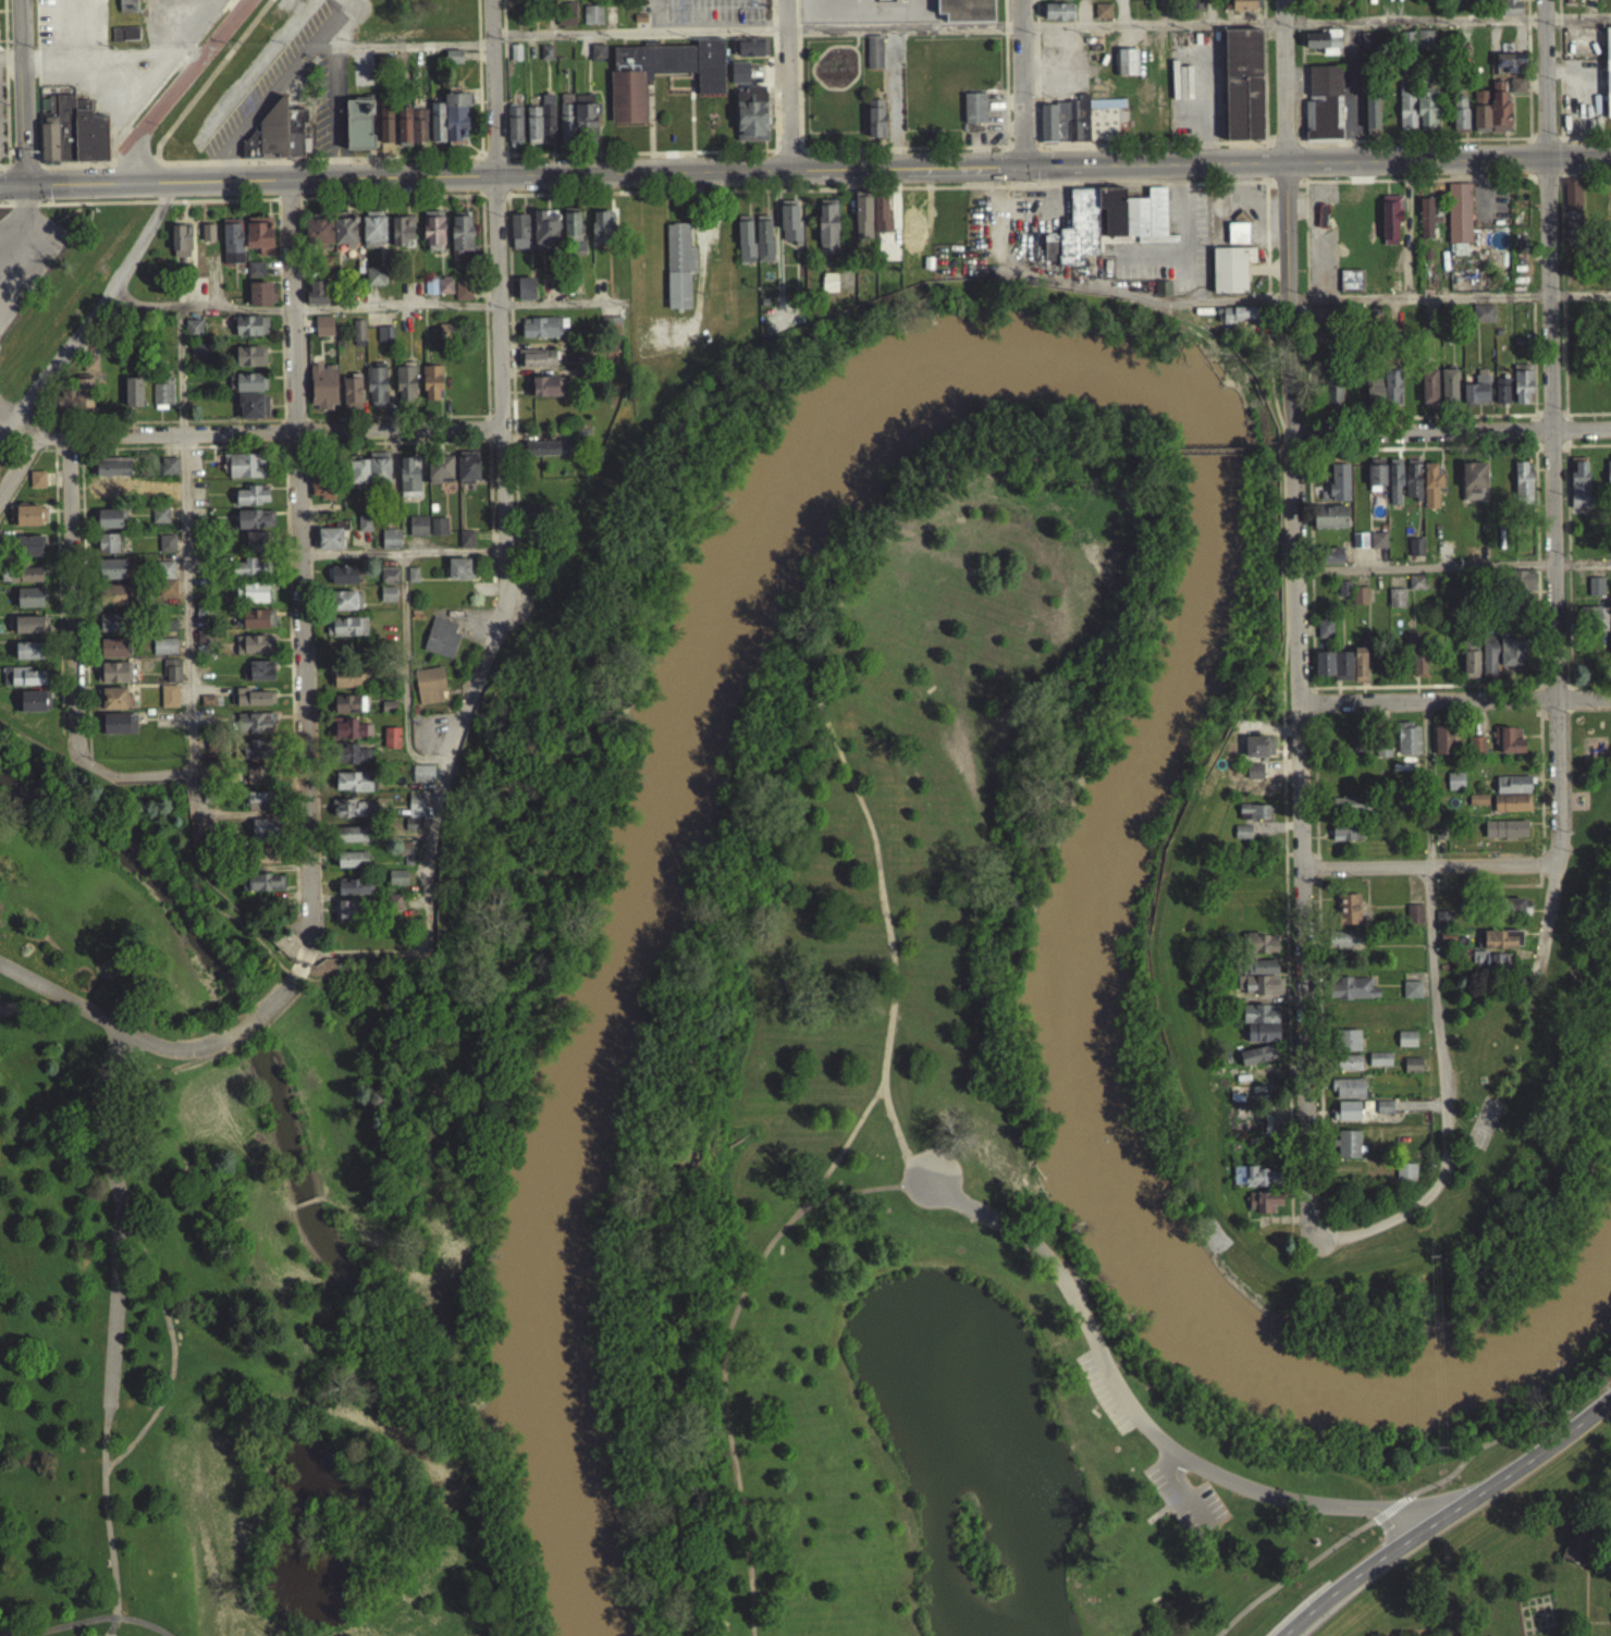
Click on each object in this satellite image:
parking lot: (767, 0)
building: (885, 4)
building: (1245, 8)
building: (127, 10)
building: (1510, 10)
building: (963, 12)
parking lot: (700, 15)
building: (1056, 16)
building: (1102, 17)
road: (653, 19)
building: (565, 21)
building: (591, 22)
road: (1577, 24)
road: (1412, 27)
road: (1151, 30)
road: (902, 34)
road: (638, 38)
building: (124, 40)
road: (413, 41)
building: (1425, 46)
building: (1323, 47)
road: (11, 52)
building: (545, 59)
building: (873, 59)
building: (598, 60)
road: (110, 63)
building: (453, 63)
building: (1126, 69)
road: (1559, 73)
building: (1608, 77)
road: (280, 78)
building: (739, 78)
building: (662, 79)
road: (1020, 85)
road: (786, 88)
road: (177, 89)
building: (1242, 90)
building: (1516, 91)
road: (23, 94)
road: (890, 104)
building: (1324, 110)
road: (335, 112)
building: (1499, 112)
building: (974, 114)
building: (1405, 115)
building: (1426, 116)
building: (1372, 118)
building: (1480, 118)
building: (583, 119)
building: (1459, 119)
building: (751, 120)
building: (456, 123)
building: (566, 123)
building: (546, 125)
building: (875, 125)
building: (1082, 126)
building: (436, 128)
building: (359, 131)
building: (411, 132)
building: (514, 132)
building: (532, 132)
building: (71, 137)
building: (385, 137)
building: (275, 138)
road: (1583, 143)
road: (229, 158)
road: (134, 167)
road: (217, 168)
road: (74, 170)
road: (4, 171)
road: (23, 171)
traffic signals: (1022, 172)
road: (805, 176)
road: (1545, 183)
road: (1584, 184)
road: (1402, 185)
road: (1267, 187)
traffic signals: (23, 189)
road: (939, 193)
road: (492, 201)
road: (390, 202)
road: (286, 205)
road: (222, 206)
road: (161, 207)
road: (77, 208)
building: (1459, 219)
building: (862, 222)
building: (881, 222)
building: (1426, 225)
building: (1390, 226)
building: (789, 227)
building: (1106, 230)
building: (571, 233)
building: (908, 233)
road: (17, 234)
building: (545, 234)
building: (602, 234)
building: (827, 235)
building: (373, 236)
building: (318, 237)
building: (345, 237)
building: (402, 237)
building: (433, 237)
building: (207, 238)
building: (518, 238)
building: (460, 239)
building: (1237, 239)
building: (259, 241)
building: (745, 245)
building: (763, 245)
building: (232, 247)
building: (180, 248)
gas station: (23, 259)
building: (678, 272)
building: (255, 275)
building: (1230, 275)
building: (374, 283)
road: (2, 285)
building: (1350, 287)
building: (828, 288)
road: (1577, 291)
building: (438, 292)
building: (526, 295)
building: (1161, 295)
building: (463, 296)
road: (1416, 297)
building: (317, 299)
building: (261, 300)
road: (559, 308)
road: (393, 309)
road: (199, 312)
building: (1483, 320)
building: (1239, 321)
building: (250, 332)
building: (323, 332)
building: (612, 332)
building: (542, 334)
building: (193, 335)
building: (445, 336)
building: (358, 339)
road: (86, 340)
building: (384, 341)
road: (1544, 348)
building: (198, 357)
river: (1104, 359)
building: (249, 362)
building: (537, 365)
building: (89, 371)
road: (179, 376)
road: (1269, 379)
building: (250, 389)
building: (405, 389)
building: (432, 389)
building: (1522, 391)
building: (376, 392)
building: (1448, 392)
building: (322, 393)
building: (546, 393)
building: (1391, 394)
building: (1428, 394)
building: (1373, 396)
building: (1475, 397)
building: (133, 398)
building: (351, 398)
building: (78, 399)
building: (162, 401)
building: (1501, 403)
building: (253, 413)
road: (1450, 430)
road: (265, 438)
building: (542, 455)
road: (1191, 456)
building: (169, 472)
building: (245, 472)
building: (112, 473)
building: (467, 475)
building: (440, 476)
road: (501, 477)
building: (371, 478)
building: (1376, 479)
building: (1608, 479)
building: (408, 483)
building: (37, 485)
building: (1412, 485)
building: (1394, 489)
building: (1474, 489)
building: (1522, 489)
building: (1338, 490)
building: (1578, 491)
building: (108, 492)
building: (1430, 492)
building: (322, 494)
building: (251, 503)
building: (160, 521)
building: (27, 522)
building: (1329, 524)
building: (109, 525)
building: (255, 526)
building: (364, 529)
building: (417, 532)
building: (438, 532)
building: (332, 542)
building: (390, 545)
building: (466, 545)
building: (1377, 546)
building: (256, 548)
building: (108, 550)
building: (165, 550)
building: (28, 552)
building: (1415, 553)
road: (401, 558)
building: (1329, 562)
road: (1581, 563)
road: (299, 569)
building: (249, 575)
building: (111, 576)
building: (458, 576)
building: (21, 581)
building: (342, 581)
building: (388, 581)
building: (411, 581)
building: (167, 586)
building: (1522, 588)
building: (1415, 589)
building: (1595, 593)
building: (1342, 594)
road: (70, 595)
building: (257, 599)
building: (112, 601)
building: (388, 601)
building: (1360, 602)
building: (29, 604)
building: (1397, 604)
building: (346, 606)
road: (1299, 618)
building: (258, 625)
building: (1592, 625)
building: (112, 629)
building: (29, 631)
building: (345, 632)
building: (1324, 635)
building: (441, 644)
building: (254, 651)
building: (164, 653)
building: (1610, 653)
building: (113, 654)
building: (29, 656)
building: (1511, 659)
building: (1489, 666)
building: (1469, 668)
building: (1358, 671)
building: (1333, 672)
building: (1418, 672)
building: (172, 677)
building: (261, 677)
road: (403, 677)
building: (114, 679)
road: (187, 681)
road: (1591, 681)
building: (24, 682)
building: (346, 686)
building: (429, 691)
road: (1584, 696)
road: (1429, 698)
building: (169, 703)
building: (114, 704)
building: (253, 704)
building: (207, 706)
building: (35, 708)
building: (349, 711)
building: (256, 729)
building: (119, 730)
building: (349, 736)
building: (391, 745)
building: (1407, 746)
building: (1442, 747)
building: (1510, 747)
building: (1476, 751)
building: (1257, 753)
building: (1382, 754)
building: (255, 755)
building: (351, 761)
building: (1254, 777)
building: (422, 780)
road: (124, 783)
building: (256, 783)
building: (353, 788)
building: (1454, 788)
building: (1512, 791)
building: (1477, 807)
building: (257, 808)
building: (416, 810)
building: (1349, 810)
building: (1511, 810)
building: (351, 815)
building: (1253, 819)
road: (1559, 831)
road: (76, 833)
building: (265, 835)
building: (1504, 836)
building: (1344, 838)
building: (1440, 838)
building: (1241, 839)
building: (352, 840)
building: (407, 856)
building: (267, 861)
road: (1426, 863)
building: (352, 866)
building: (397, 885)
building: (265, 889)
building: (354, 894)
building: (394, 909)
building: (1512, 913)
building: (346, 915)
building: (1346, 915)
building: (1413, 920)
building: (1442, 925)
building: (1447, 944)
building: (1343, 946)
building: (1501, 946)
building: (1258, 950)
road: (368, 959)
building: (1495, 969)
road: (890, 974)
building: (1258, 974)
road: (274, 989)
building: (1256, 991)
road: (286, 992)
building: (1352, 995)
building: (1411, 996)
road: (297, 997)
road: (296, 999)
road: (227, 1028)
building: (1260, 1030)
road: (120, 1040)
road: (120, 1044)
building: (1405, 1046)
building: (1345, 1047)
park: (1535, 1048)
road: (239, 1049)
road: (163, 1054)
road: (172, 1055)
building: (1256, 1062)
building: (1379, 1066)
building: (1348, 1069)
road: (171, 1070)
building: (1412, 1072)
road: (1439, 1091)
building: (1348, 1095)
building: (1384, 1114)
building: (1346, 1117)
road: (891, 1124)
building: (1348, 1142)
building: (1406, 1170)
road: (915, 1174)
building: (1256, 1174)
building: (1405, 1179)
building: (1254, 1183)
road: (914, 1191)
road: (848, 1198)
building: (1266, 1198)
road: (302, 1208)
building: (1267, 1208)
park: (676, 1220)
road: (118, 1225)
road: (125, 1229)
road: (171, 1356)
parking lot: (1100, 1397)
road: (1129, 1415)
road: (1508, 1434)
road: (1182, 1499)
parking lot: (1183, 1504)
road: (1164, 1512)
road: (1444, 1513)
road: (1389, 1514)
road: (103, 1517)
building: (1576, 1553)
road: (1294, 1578)
road: (96, 1622)
road: (102, 1623)
road: (128, 1623)
road: (110, 1627)
road: (127, 1628)

